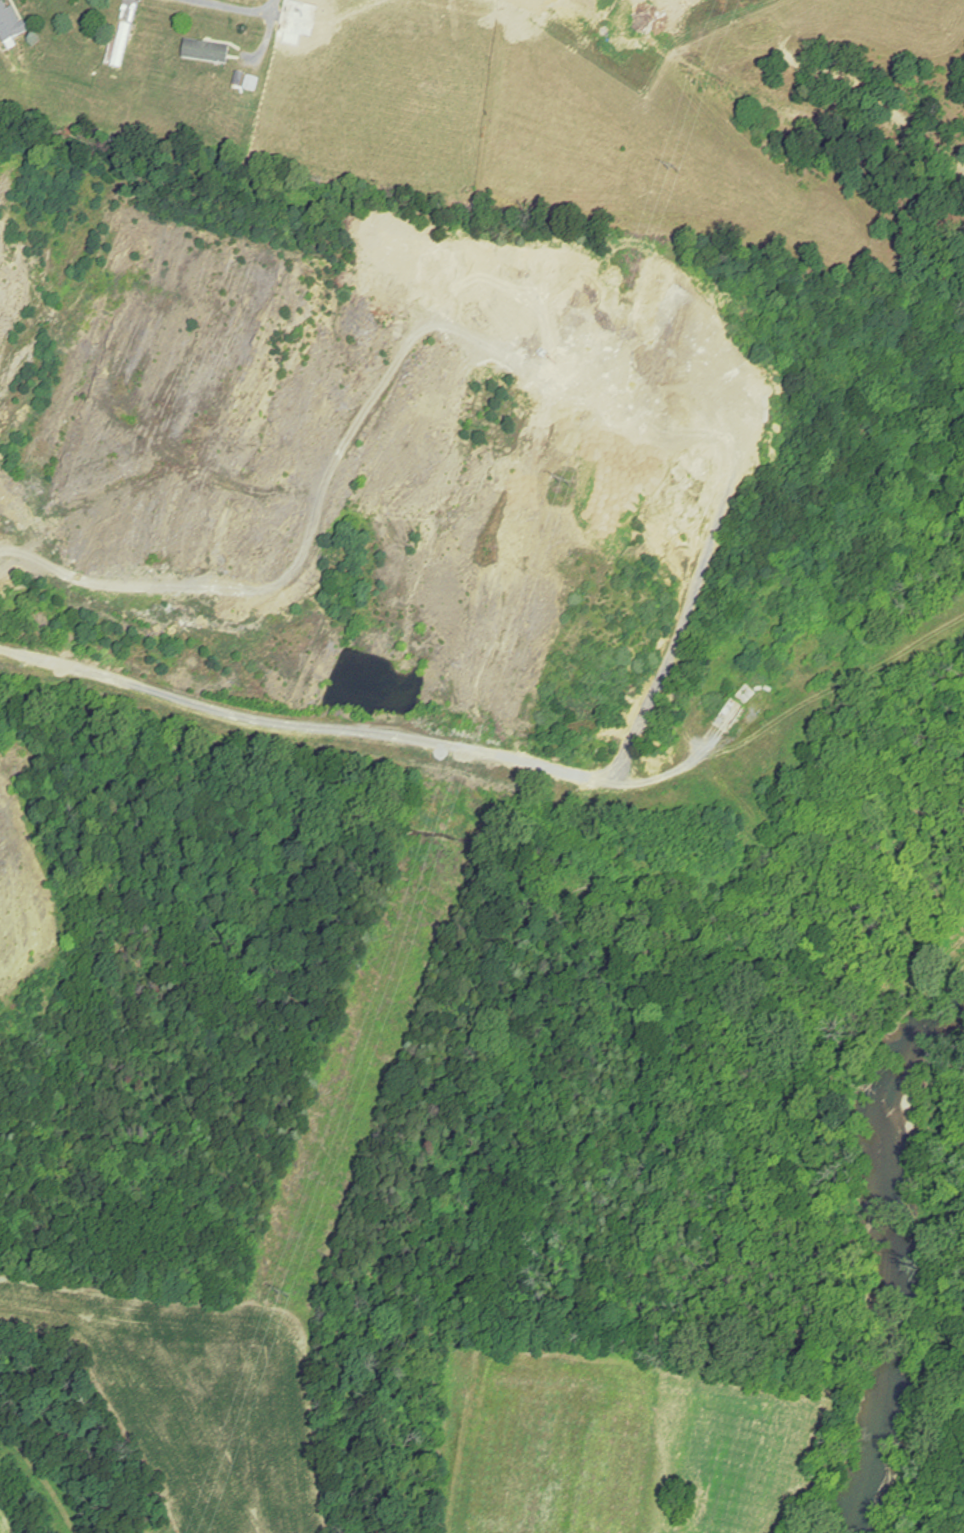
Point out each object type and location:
road: (241, 9)
building: (9, 24)
building: (126, 35)
building: (208, 52)
power tower: (559, 485)
building: (733, 713)
road: (358, 730)
river: (887, 1269)
power tower: (282, 1272)

